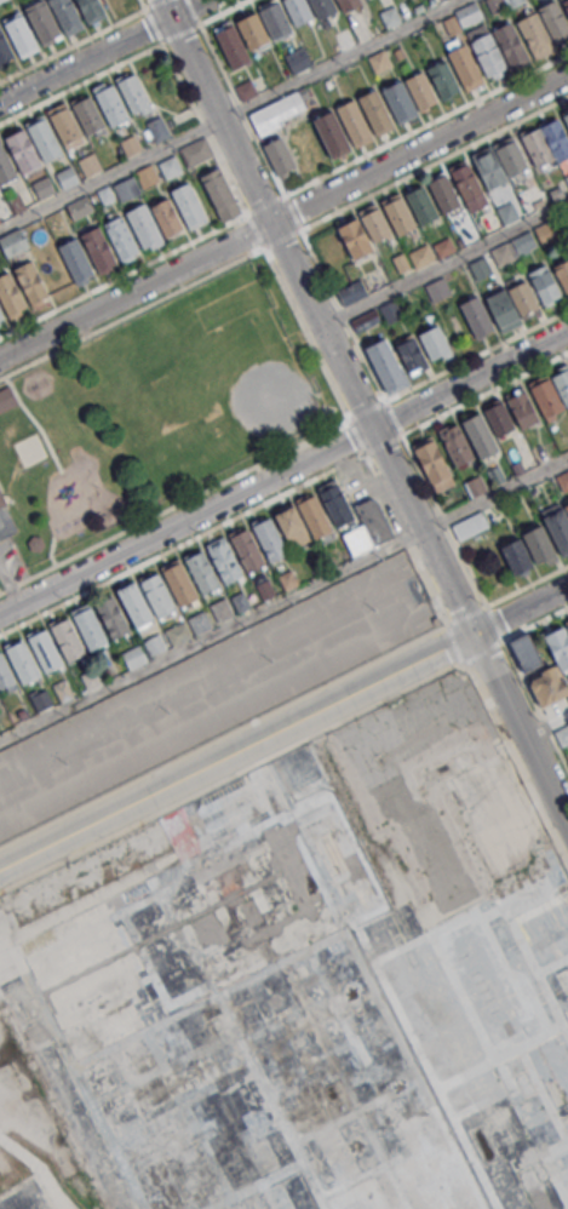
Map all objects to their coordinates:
building: (0, 0)
building: (512, 2)
road: (142, 4)
building: (348, 4)
building: (566, 5)
building: (321, 7)
building: (92, 10)
building: (298, 10)
building: (467, 13)
building: (65, 16)
building: (553, 19)
road: (203, 21)
building: (274, 21)
building: (42, 22)
building: (452, 24)
road: (151, 25)
building: (252, 31)
building: (21, 35)
building: (534, 35)
road: (80, 40)
building: (509, 44)
building: (231, 46)
building: (5, 47)
road: (103, 51)
building: (487, 53)
road: (339, 59)
building: (298, 61)
building: (379, 61)
building: (465, 67)
building: (443, 79)
road: (80, 82)
building: (246, 90)
building: (420, 90)
building: (134, 94)
building: (398, 101)
building: (111, 105)
road: (214, 111)
building: (375, 111)
building: (276, 113)
building: (88, 114)
building: (566, 119)
building: (354, 122)
building: (67, 126)
building: (157, 128)
road: (407, 132)
building: (331, 133)
building: (555, 138)
building: (45, 139)
building: (130, 144)
road: (212, 144)
building: (535, 147)
road: (418, 149)
building: (23, 150)
building: (195, 151)
building: (279, 155)
building: (509, 155)
road: (434, 161)
building: (88, 162)
building: (6, 165)
building: (170, 167)
building: (488, 167)
road: (108, 172)
building: (67, 176)
building: (147, 176)
building: (566, 179)
building: (465, 181)
building: (41, 187)
building: (127, 188)
building: (443, 193)
building: (105, 194)
building: (220, 194)
building: (16, 201)
building: (189, 204)
building: (420, 204)
building: (80, 206)
building: (507, 212)
building: (397, 213)
building: (166, 217)
building: (373, 222)
building: (144, 225)
building: (549, 231)
building: (121, 237)
road: (281, 237)
building: (354, 237)
building: (13, 242)
building: (98, 247)
building: (443, 247)
building: (507, 254)
building: (421, 256)
building: (75, 258)
road: (444, 263)
building: (480, 268)
road: (124, 274)
building: (562, 274)
building: (31, 283)
building: (544, 283)
building: (437, 288)
road: (134, 291)
building: (351, 292)
building: (10, 294)
building: (523, 297)
road: (338, 305)
building: (501, 306)
building: (391, 311)
road: (132, 313)
building: (1, 315)
building: (476, 316)
building: (366, 320)
road: (321, 326)
road: (306, 332)
building: (434, 342)
building: (409, 353)
road: (476, 354)
building: (385, 366)
road: (470, 380)
building: (561, 384)
park: (271, 397)
building: (546, 397)
building: (6, 399)
road: (465, 401)
road: (367, 408)
building: (522, 408)
park: (153, 413)
building: (498, 418)
road: (34, 419)
building: (478, 434)
road: (356, 435)
building: (455, 445)
fountain: (30, 449)
building: (434, 463)
road: (337, 466)
building: (495, 475)
building: (563, 480)
building: (476, 485)
road: (494, 494)
building: (2, 497)
building: (334, 502)
road: (173, 505)
building: (566, 505)
building: (314, 516)
road: (185, 521)
building: (292, 525)
building: (469, 525)
building: (557, 525)
building: (368, 527)
road: (421, 531)
road: (406, 537)
building: (269, 539)
building: (538, 543)
building: (247, 549)
road: (50, 550)
building: (516, 555)
road: (155, 556)
building: (224, 560)
building: (203, 572)
road: (5, 577)
building: (287, 578)
building: (178, 583)
road: (527, 583)
building: (264, 589)
building: (156, 595)
road: (15, 596)
building: (240, 600)
building: (133, 602)
building: (220, 609)
road: (520, 611)
building: (111, 617)
building: (199, 621)
road: (535, 621)
road: (495, 624)
building: (567, 624)
building: (90, 629)
building: (178, 632)
road: (211, 634)
building: (68, 638)
building: (154, 643)
road: (457, 643)
building: (558, 644)
building: (45, 651)
building: (524, 651)
road: (484, 652)
building: (133, 657)
building: (23, 660)
building: (5, 674)
building: (90, 677)
building: (547, 684)
building: (62, 689)
building: (41, 698)
road: (535, 701)
building: (22, 712)
road: (242, 724)
road: (545, 726)
road: (521, 730)
building: (562, 734)
road: (236, 752)
road: (514, 755)
road: (223, 779)
building: (329, 1119)

